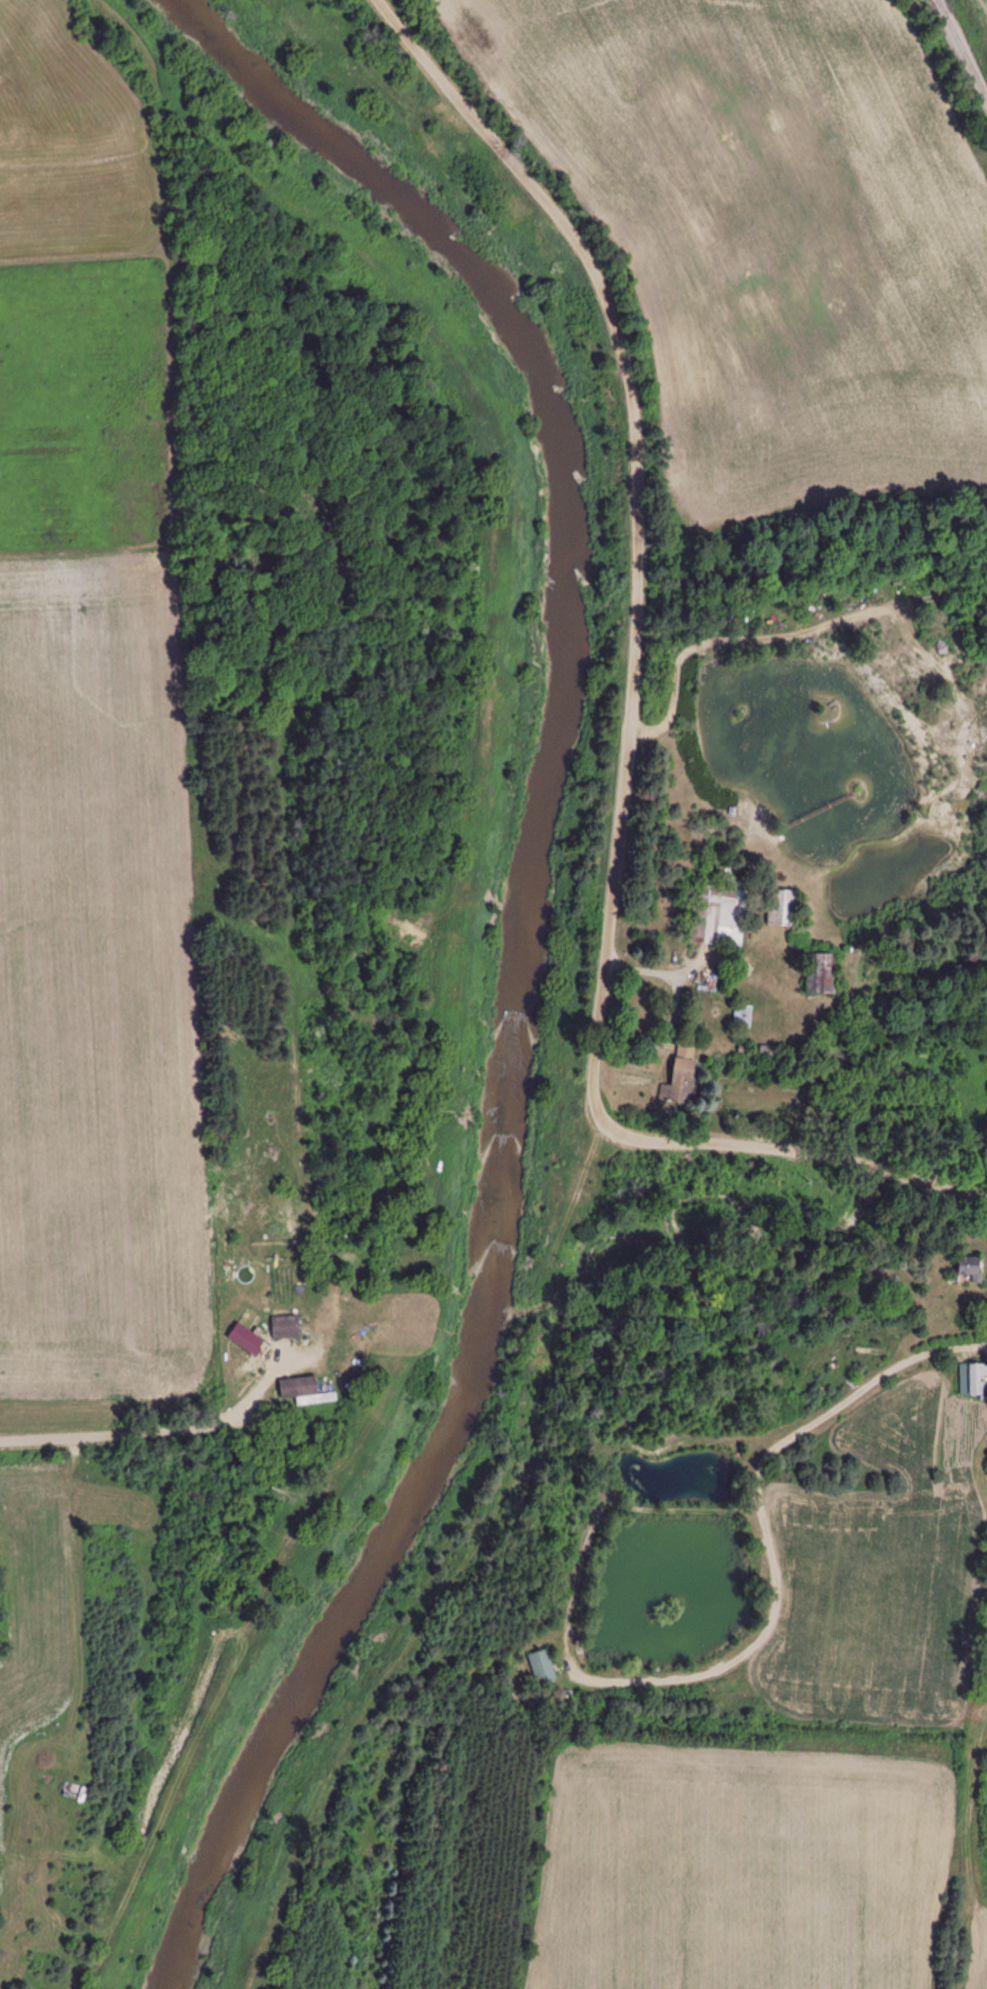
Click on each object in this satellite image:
railway: (967, 39)
road: (622, 727)
building: (783, 909)
building: (720, 916)
river: (517, 955)
building: (822, 975)
building: (681, 1077)
building: (970, 1269)
building: (286, 1328)
building: (248, 1339)
building: (973, 1380)
building: (298, 1388)
road: (113, 1434)
building: (543, 1667)

